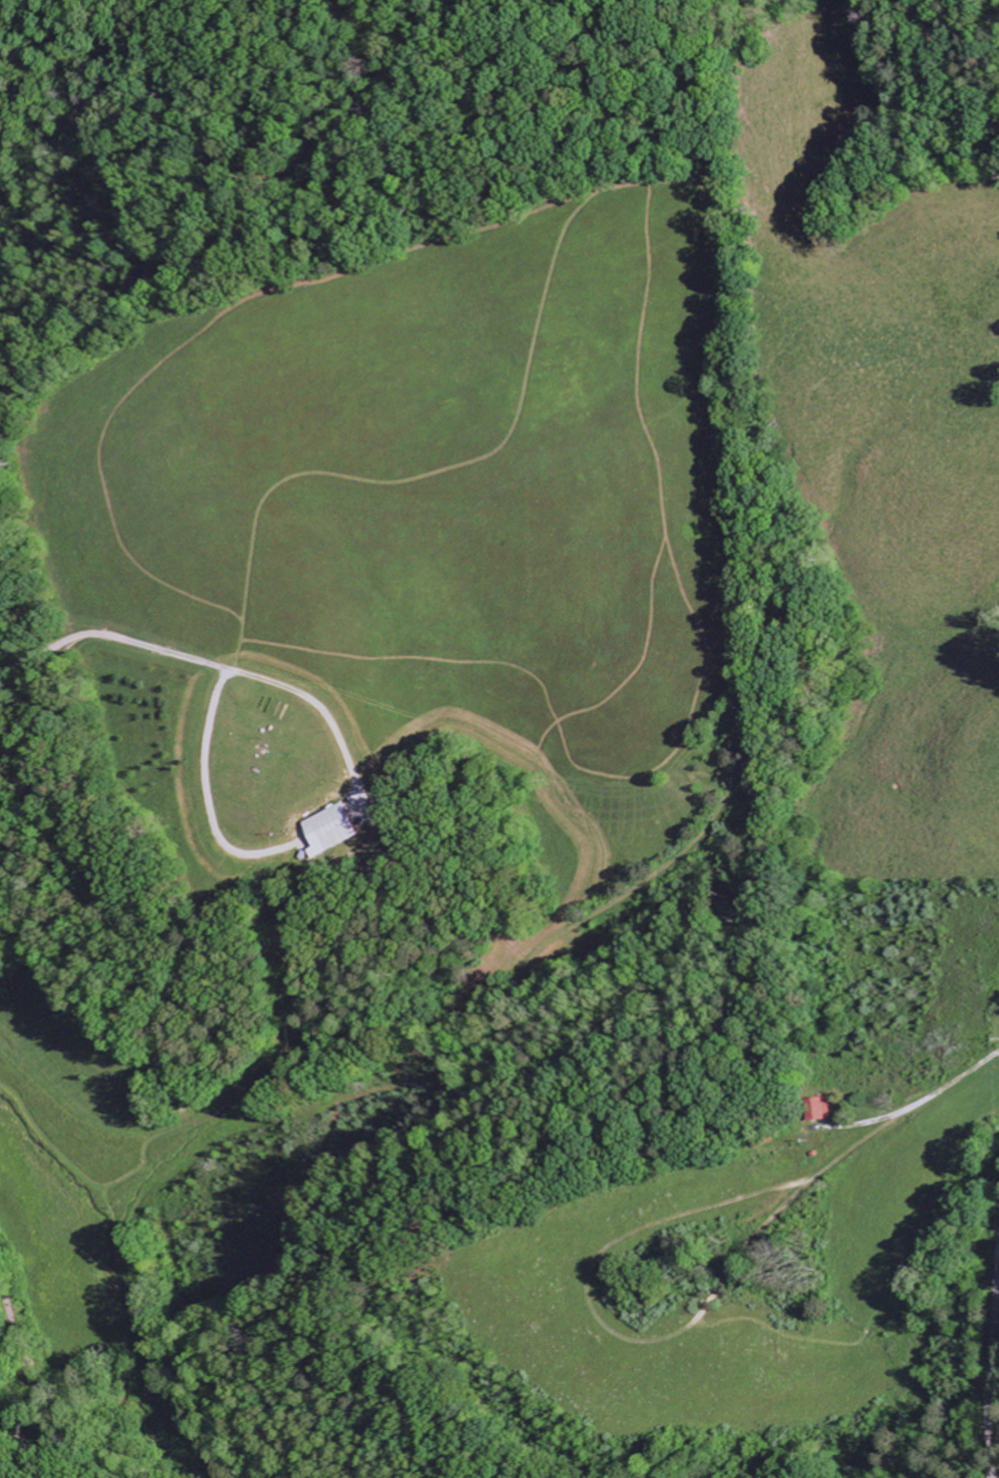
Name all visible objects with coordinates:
building: (342, 830)
road: (49, 1392)
road: (992, 1402)

